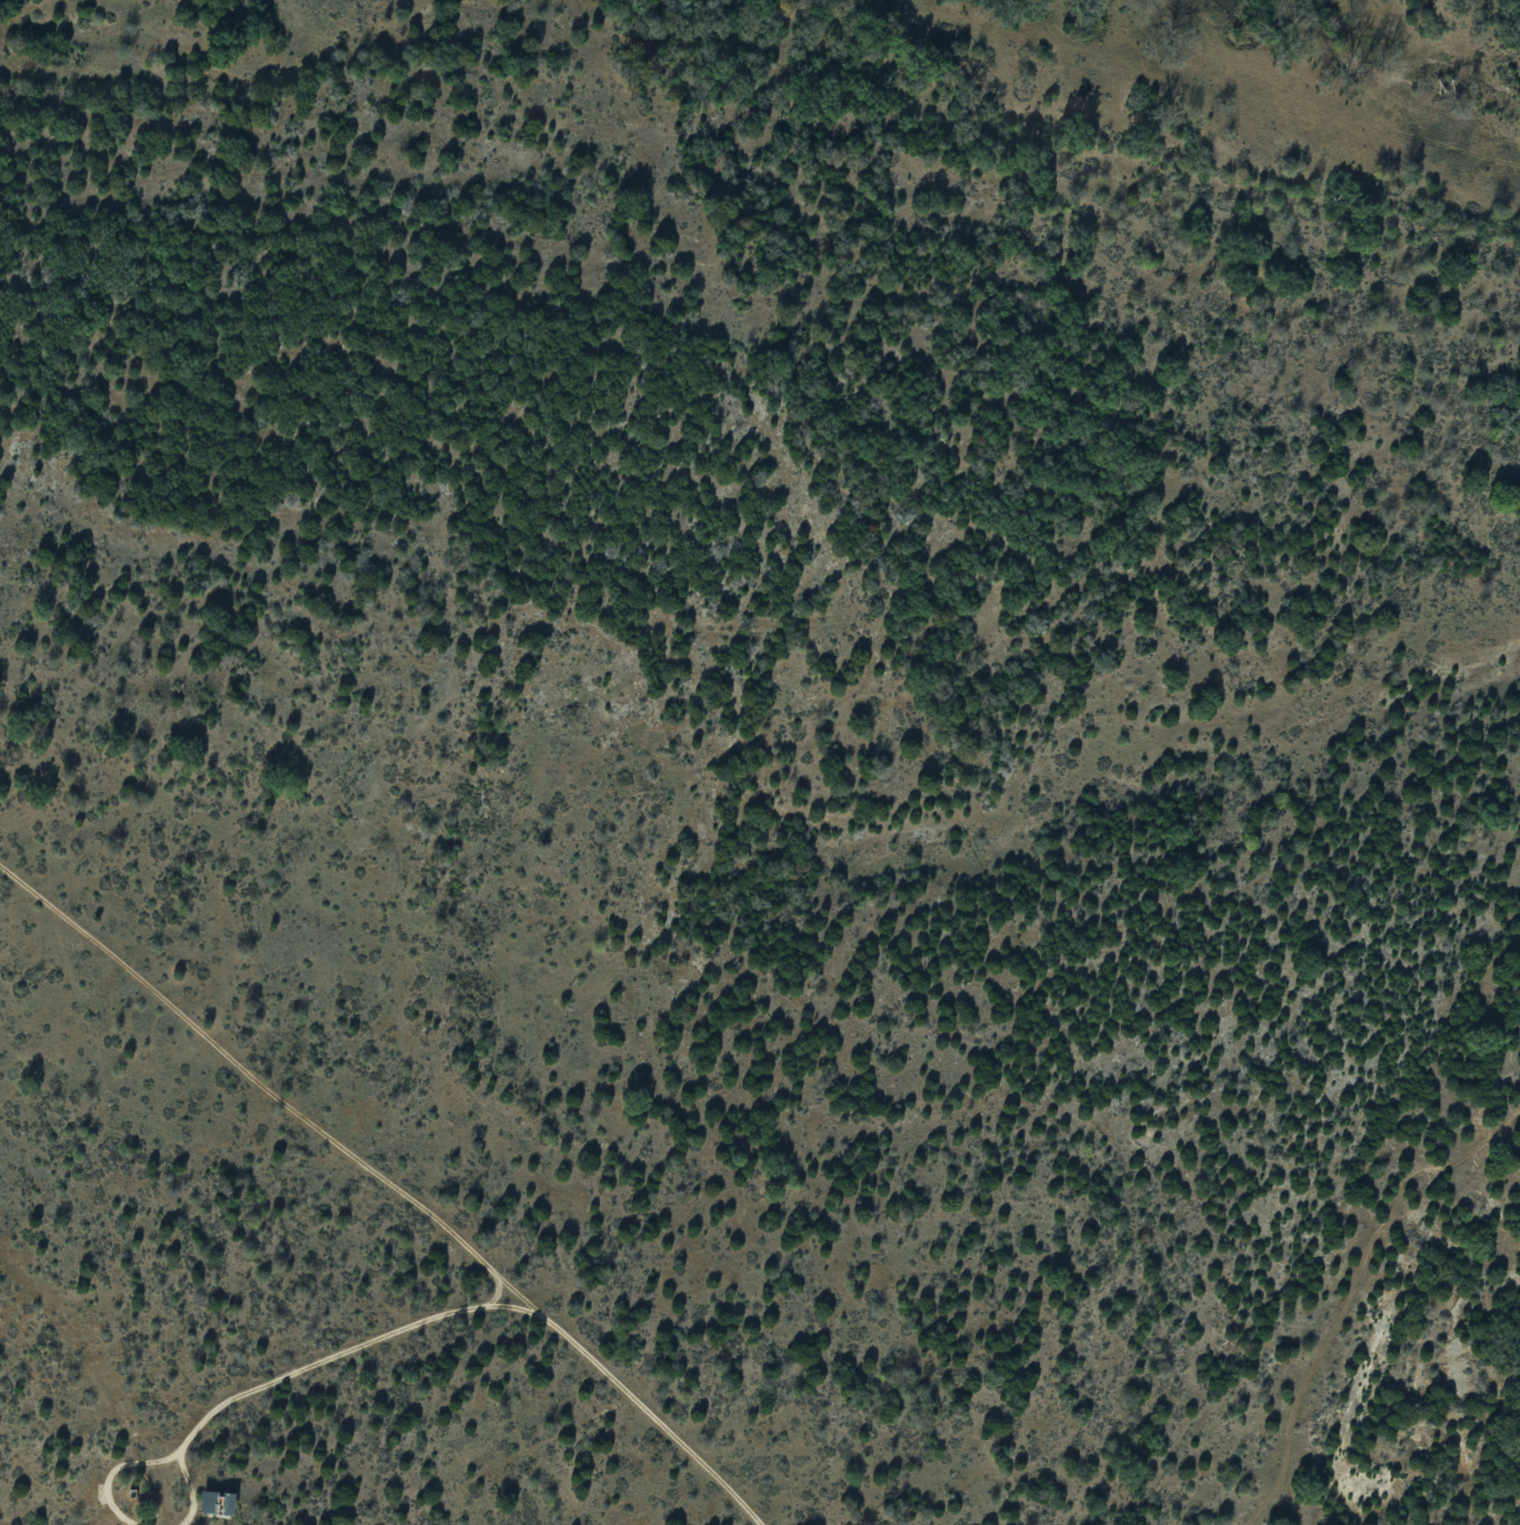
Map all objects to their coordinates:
road: (275, 1097)
road: (350, 1349)
road: (657, 1422)
road: (175, 1458)
road: (115, 1473)
road: (188, 1492)

